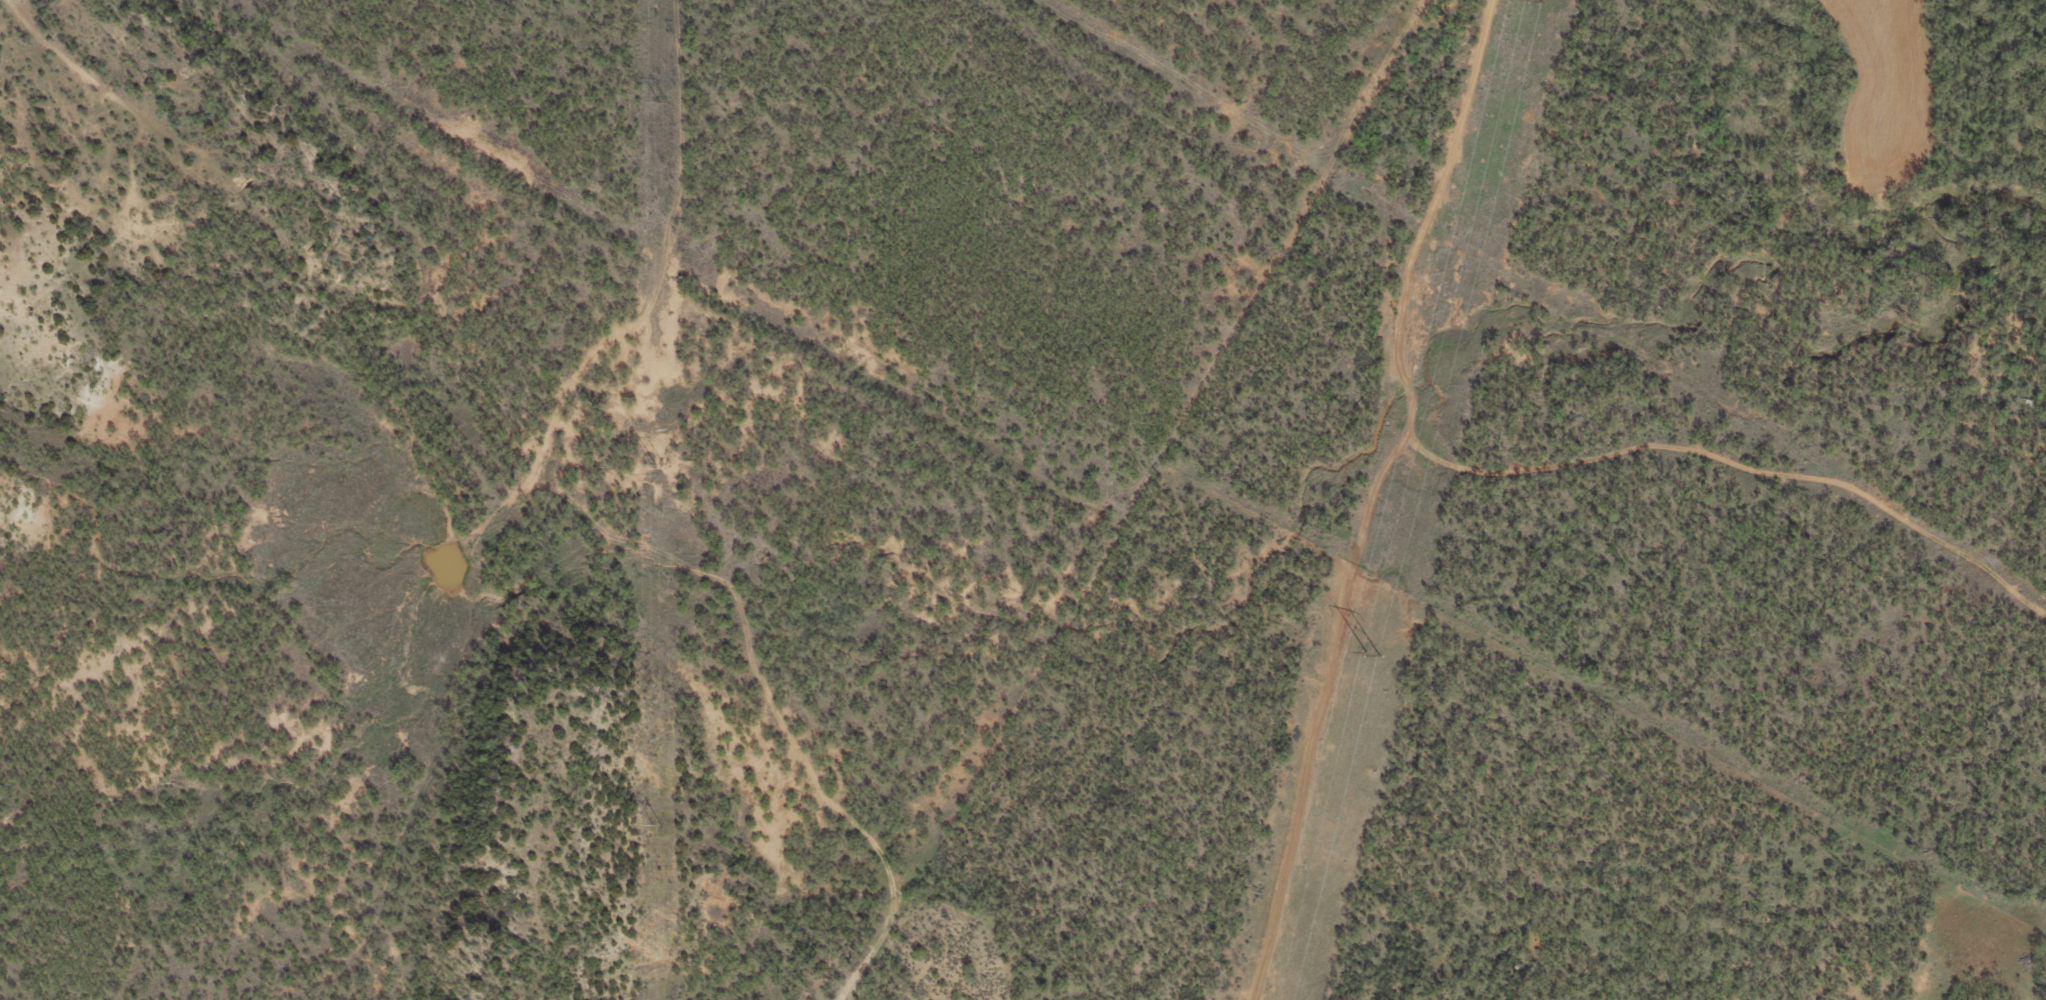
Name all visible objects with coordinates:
power tower: (1530, 2)
power tower: (664, 102)
road: (1542, 454)
power tower: (659, 465)
power tower: (1373, 654)
power tower: (656, 824)

